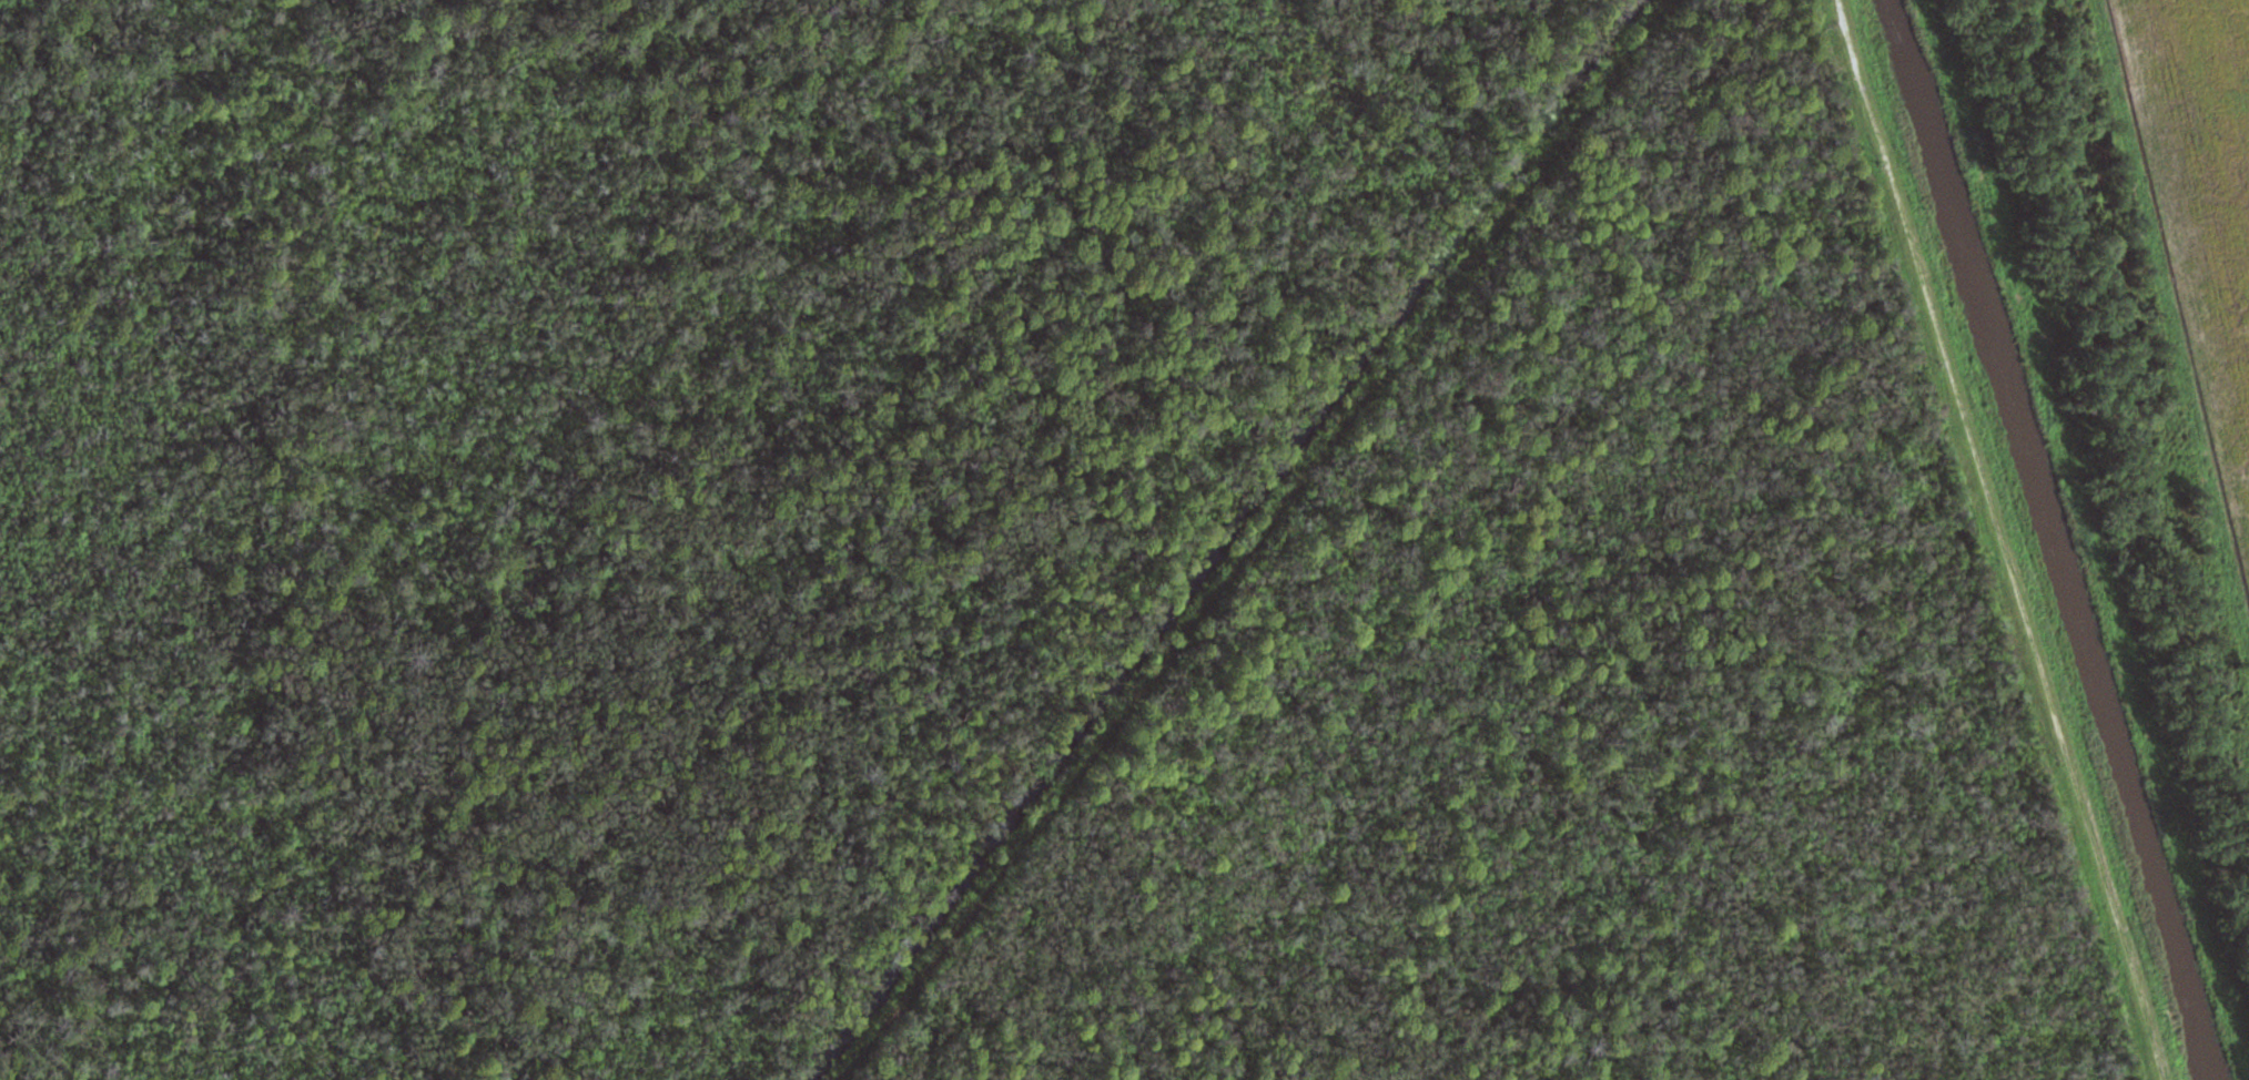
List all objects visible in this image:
crop: (2201, 203)
road: (2004, 540)

